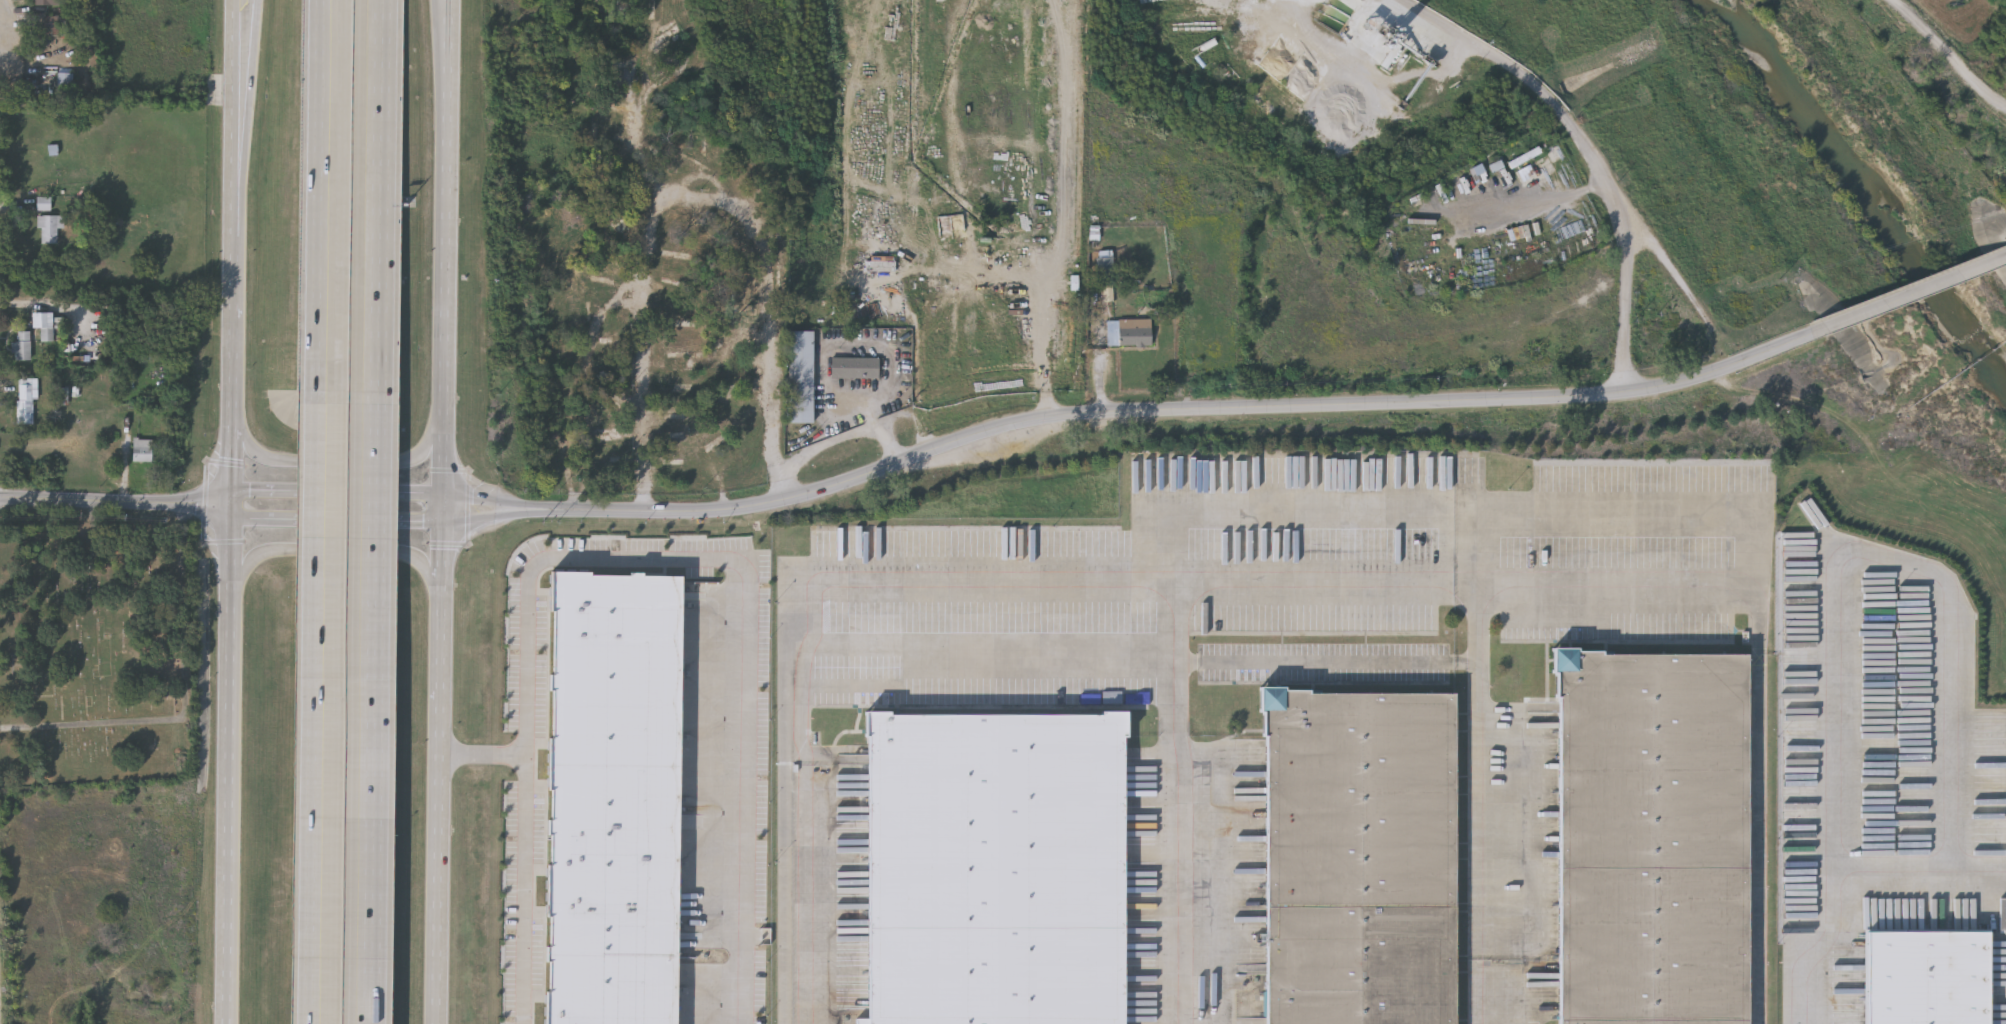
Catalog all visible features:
building: (55, 3)
building: (646, 11)
road: (447, 17)
road: (449, 17)
road: (1, 24)
building: (51, 28)
road: (3, 32)
building: (676, 49)
road: (1950, 56)
building: (619, 57)
building: (65, 84)
road: (236, 115)
road: (246, 115)
building: (586, 141)
road: (957, 142)
road: (1067, 153)
road: (1591, 154)
building: (1525, 160)
building: (605, 161)
road: (642, 167)
building: (1496, 169)
building: (746, 178)
road: (695, 184)
road: (379, 200)
road: (329, 201)
road: (1537, 204)
building: (43, 206)
building: (618, 206)
building: (50, 230)
building: (1101, 260)
building: (681, 272)
road: (956, 288)
road: (1912, 292)
road: (236, 326)
building: (44, 327)
building: (671, 329)
building: (1129, 332)
building: (22, 348)
building: (677, 350)
building: (854, 367)
building: (799, 376)
building: (733, 380)
building: (680, 383)
road: (440, 394)
building: (26, 401)
road: (905, 408)
building: (680, 411)
road: (1130, 416)
road: (850, 421)
building: (685, 432)
building: (711, 435)
building: (613, 442)
building: (142, 452)
building: (670, 458)
road: (233, 464)
road: (338, 466)
road: (337, 494)
road: (115, 504)
road: (1282, 518)
road: (337, 521)
road: (335, 551)
road: (1881, 556)
road: (639, 559)
road: (1252, 590)
road: (1760, 625)
road: (988, 649)
park: (96, 657)
road: (373, 712)
road: (323, 713)
road: (482, 754)
road: (229, 765)
road: (1479, 787)
building: (611, 795)
building: (1654, 840)
building: (1360, 861)
road: (1839, 869)
building: (997, 872)
road: (437, 889)
building: (1925, 977)

